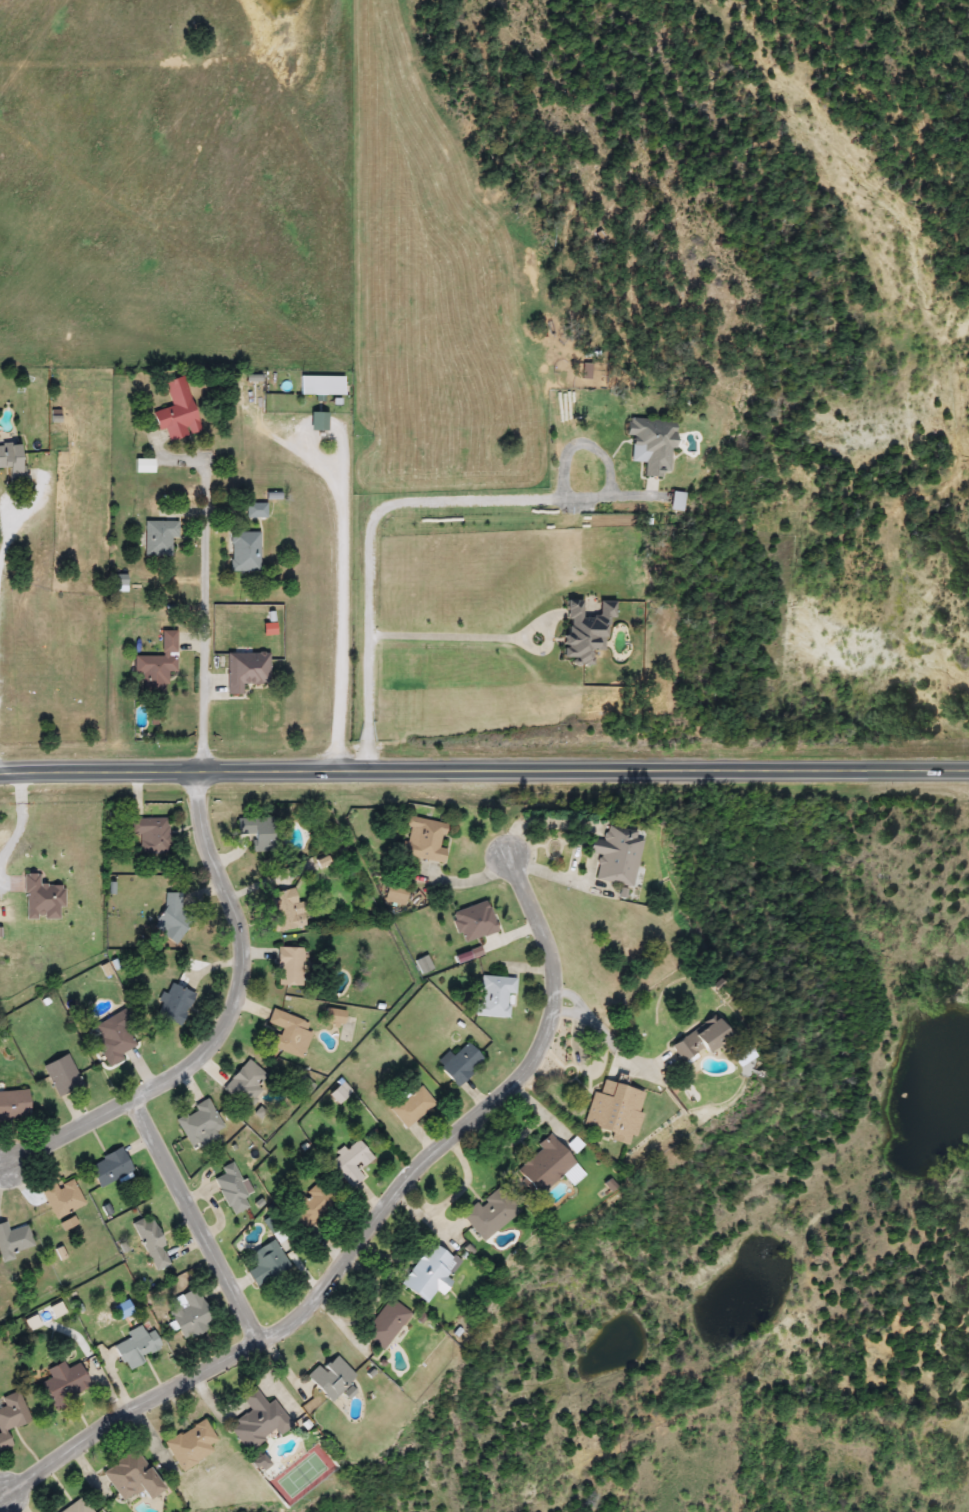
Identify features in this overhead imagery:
building: (319, 386)
building: (176, 411)
road: (310, 420)
building: (649, 445)
building: (10, 461)
building: (674, 501)
road: (434, 503)
building: (255, 511)
road: (24, 512)
building: (158, 538)
building: (244, 553)
road: (206, 616)
road: (341, 629)
road: (486, 632)
building: (582, 632)
building: (156, 666)
road: (484, 769)
building: (256, 831)
building: (150, 834)
building: (422, 839)
building: (613, 854)
building: (394, 895)
building: (284, 910)
building: (170, 914)
building: (289, 966)
building: (493, 996)
building: (173, 1003)
building: (332, 1019)
road: (225, 1022)
building: (288, 1034)
building: (115, 1037)
road: (609, 1038)
building: (695, 1039)
building: (460, 1064)
building: (61, 1075)
building: (246, 1084)
building: (337, 1094)
building: (13, 1105)
building: (411, 1107)
building: (612, 1111)
building: (198, 1123)
building: (350, 1162)
building: (541, 1166)
building: (108, 1168)
building: (231, 1190)
building: (62, 1197)
building: (310, 1207)
building: (490, 1212)
road: (194, 1213)
road: (363, 1226)
building: (13, 1240)
building: (150, 1243)
building: (266, 1263)
building: (428, 1273)
building: (189, 1314)
building: (385, 1323)
building: (136, 1346)
building: (330, 1377)
building: (63, 1380)
building: (11, 1416)
building: (256, 1420)
building: (190, 1445)
building: (129, 1477)
road: (4, 1504)
building: (76, 1507)

